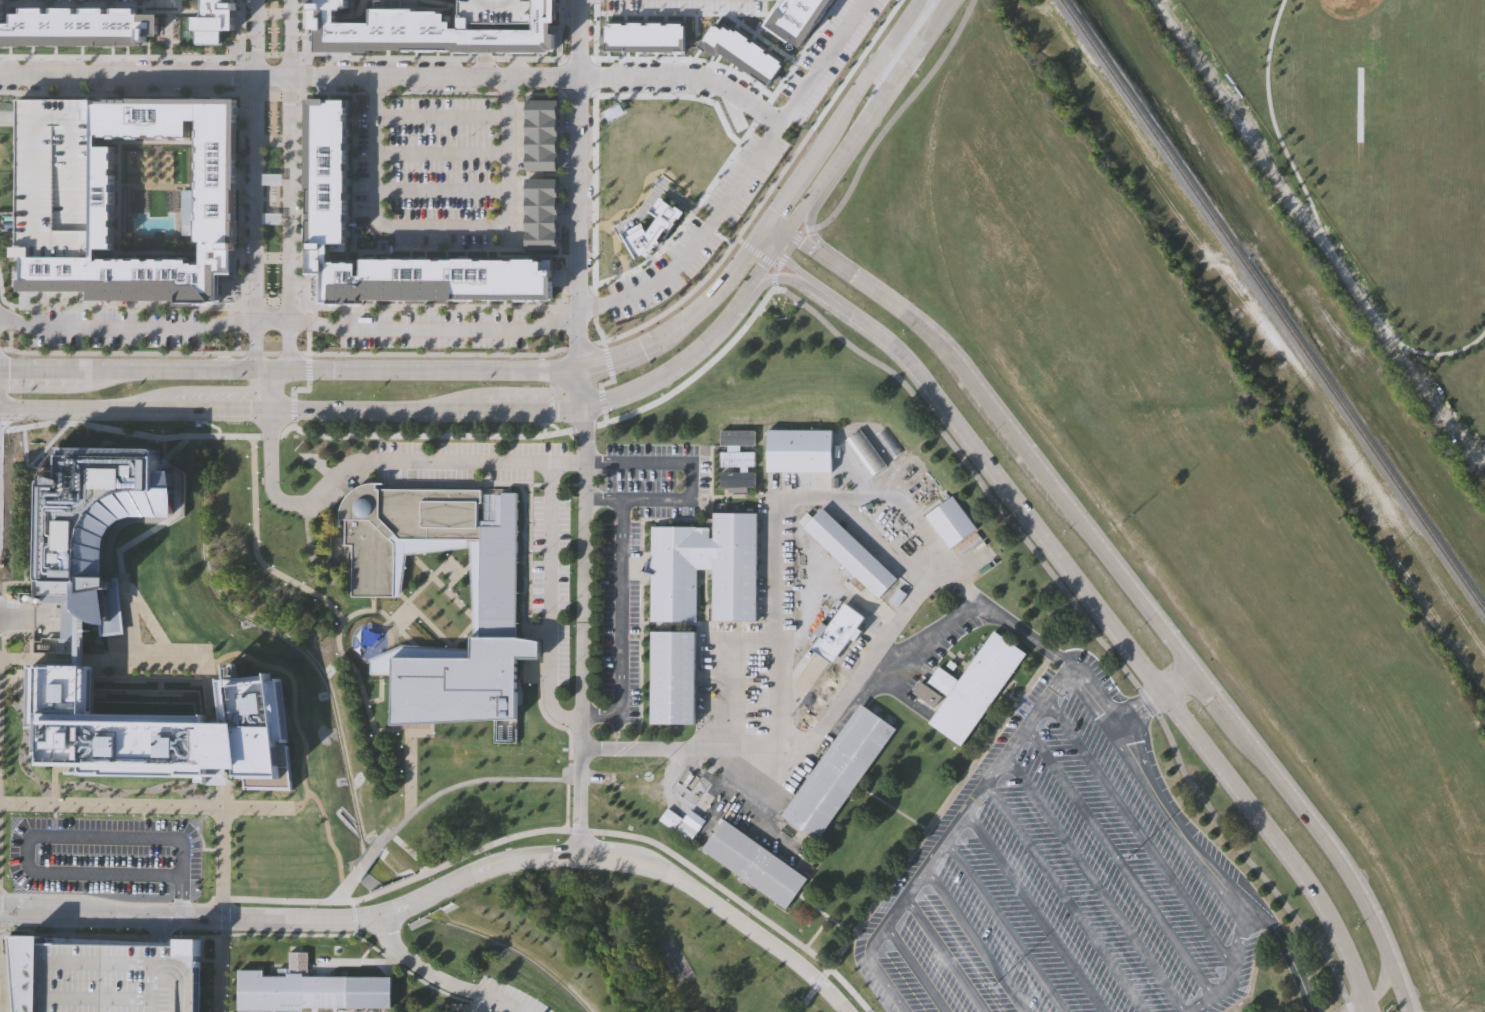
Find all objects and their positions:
road: (499, 0)
building: (0, 1)
parking lot: (684, 3)
park: (1347, 5)
building: (0, 14)
building: (795, 17)
building: (214, 20)
road: (482, 20)
road: (936, 20)
building: (511, 22)
parking garage: (511, 22)
building: (77, 26)
building: (395, 27)
building: (641, 36)
building: (339, 39)
building: (742, 51)
road: (389, 55)
road: (482, 59)
road: (823, 59)
road: (877, 61)
road: (395, 76)
road: (376, 83)
road: (506, 84)
road: (381, 85)
building: (611, 106)
road: (7, 109)
road: (441, 115)
road: (896, 115)
park: (270, 117)
park: (1424, 126)
building: (541, 135)
road: (854, 136)
park: (661, 142)
road: (441, 153)
road: (726, 155)
road: (577, 157)
road: (255, 160)
road: (289, 160)
park: (1367, 166)
road: (593, 167)
parking lot: (438, 169)
road: (240, 172)
road: (298, 173)
building: (327, 173)
road: (560, 173)
road: (646, 173)
road: (805, 173)
building: (54, 177)
parking lot: (54, 177)
road: (651, 186)
road: (440, 189)
park: (270, 199)
building: (215, 201)
building: (541, 215)
road: (710, 221)
road: (440, 226)
road: (1318, 226)
parking lot: (699, 227)
road: (778, 227)
building: (648, 228)
road: (74, 230)
road: (763, 231)
road: (615, 235)
road: (813, 236)
road: (698, 239)
road: (779, 242)
road: (764, 246)
road: (758, 248)
road: (787, 253)
building: (30, 258)
road: (791, 268)
park: (270, 280)
road: (712, 296)
road: (752, 296)
building: (99, 298)
road: (741, 298)
railway: (1273, 306)
road: (303, 308)
road: (8, 314)
building: (81, 319)
road: (288, 320)
parking lot: (116, 328)
parking lot: (434, 329)
road: (578, 344)
road: (529, 345)
road: (258, 347)
road: (285, 348)
road: (2, 350)
road: (619, 359)
road: (276, 373)
road: (566, 374)
road: (602, 375)
road: (295, 381)
road: (649, 381)
road: (75, 388)
road: (187, 388)
road: (269, 390)
road: (493, 390)
road: (582, 390)
road: (292, 407)
building: (197, 424)
road: (553, 424)
road: (1, 425)
road: (212, 425)
building: (536, 426)
road: (544, 429)
road: (413, 435)
building: (735, 438)
building: (797, 451)
building: (864, 453)
building: (736, 459)
road: (452, 461)
road: (291, 479)
road: (690, 479)
building: (735, 480)
road: (838, 497)
road: (302, 501)
road: (26, 509)
building: (949, 522)
road: (303, 527)
building: (92, 528)
building: (401, 533)
road: (138, 538)
parking lot: (639, 550)
building: (702, 553)
building: (848, 553)
parking lot: (549, 584)
road: (1134, 591)
road: (550, 599)
road: (129, 615)
road: (621, 623)
road: (1090, 626)
road: (598, 628)
road: (580, 629)
road: (1113, 630)
building: (836, 631)
road: (2, 632)
road: (934, 637)
building: (469, 638)
road: (329, 641)
road: (105, 658)
building: (237, 660)
road: (313, 664)
building: (668, 675)
road: (1178, 679)
road: (299, 683)
building: (974, 685)
road: (1052, 689)
building: (928, 693)
road: (1138, 708)
building: (161, 731)
road: (565, 736)
road: (803, 738)
road: (0, 739)
road: (302, 749)
road: (374, 758)
building: (838, 771)
road: (410, 772)
road: (223, 788)
road: (53, 791)
road: (146, 804)
road: (301, 806)
road: (144, 811)
building: (680, 825)
road: (569, 830)
road: (302, 832)
road: (924, 832)
road: (1140, 833)
road: (48, 836)
road: (212, 849)
road: (222, 851)
road: (544, 855)
parking lot: (108, 857)
road: (367, 858)
road: (1119, 861)
road: (261, 864)
building: (753, 864)
parking lot: (1065, 876)
road: (1094, 883)
road: (343, 889)
road: (1064, 897)
road: (111, 900)
road: (101, 907)
road: (1035, 911)
road: (221, 915)
road: (351, 917)
road: (101, 922)
road: (1005, 926)
road: (155, 927)
road: (248, 934)
road: (975, 940)
road: (1288, 952)
road: (946, 954)
road: (1236, 956)
road: (915, 968)
road: (877, 969)
road: (220, 973)
road: (1253, 974)
building: (104, 976)
parking lot: (104, 976)
road: (439, 978)
road: (1383, 978)
building: (306, 989)
parking lot: (503, 998)
road: (1357, 1006)
flagpole: (457, 1007)
flagpole: (450, 1008)
flagpole: (463, 1008)

